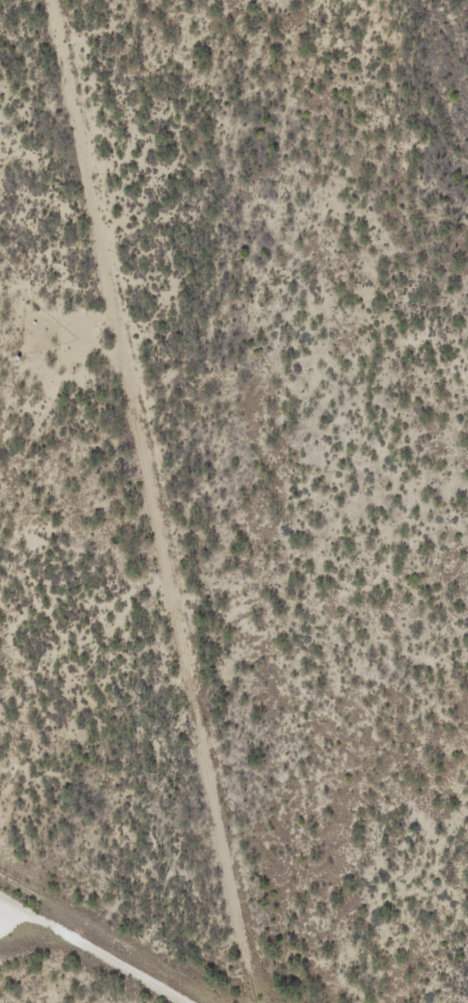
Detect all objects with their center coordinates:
road: (87, 954)

